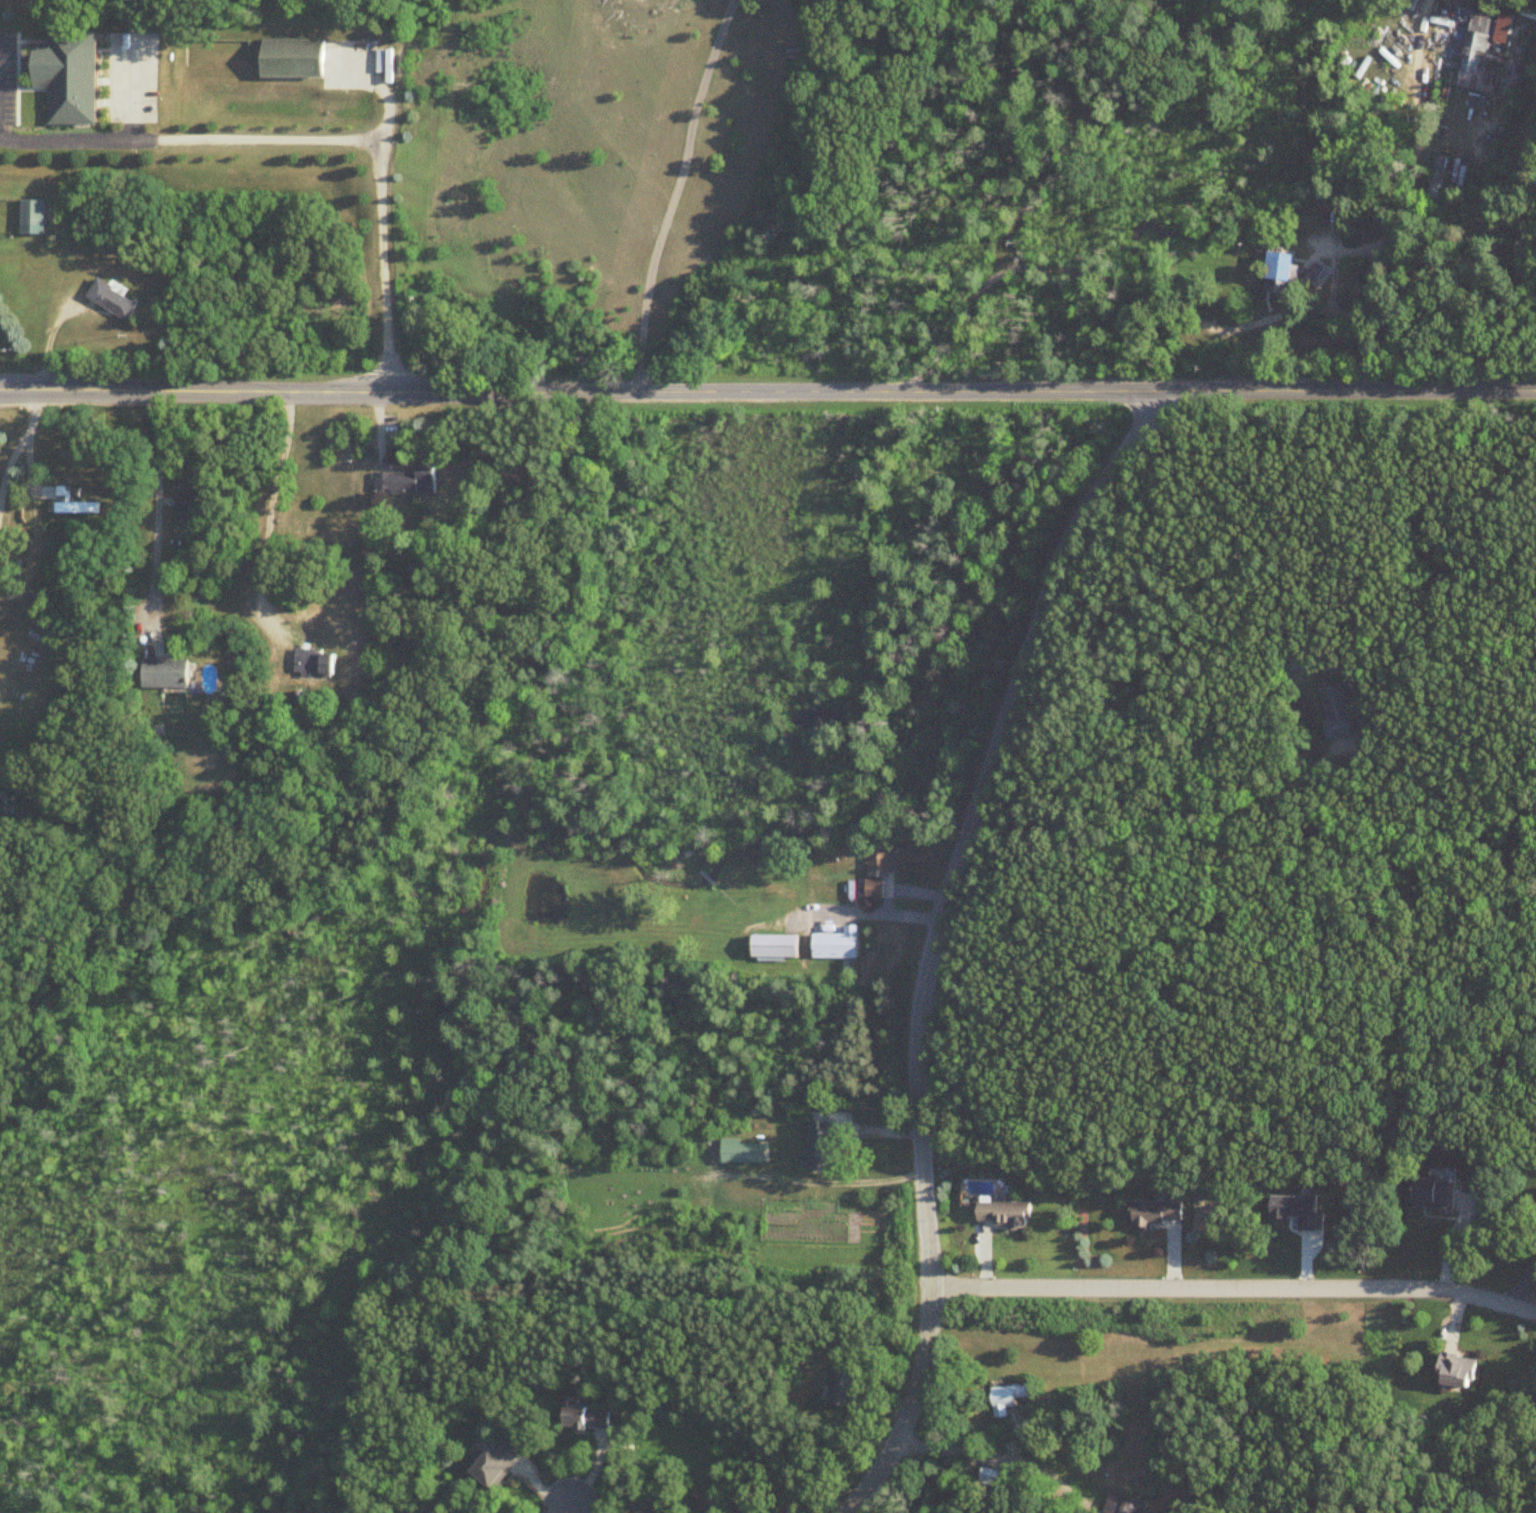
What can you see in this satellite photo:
road: (31, 41)
building: (1486, 50)
building: (293, 58)
building: (73, 73)
road: (14, 79)
road: (127, 82)
road: (32, 89)
road: (317, 133)
building: (1437, 177)
road: (668, 192)
building: (33, 218)
building: (1281, 273)
road: (1146, 298)
building: (114, 301)
road: (768, 392)
building: (408, 482)
building: (190, 502)
building: (76, 508)
road: (268, 512)
road: (151, 516)
building: (1299, 661)
building: (316, 663)
building: (167, 675)
building: (1337, 712)
road: (1151, 814)
building: (883, 861)
building: (874, 890)
road: (905, 891)
road: (878, 912)
road: (934, 940)
building: (837, 945)
building: (778, 947)
building: (825, 1146)
building: (744, 1153)
road: (827, 1183)
building: (1436, 1196)
building: (1158, 1214)
building: (1004, 1216)
road: (1234, 1290)
building: (1458, 1370)
building: (848, 1386)
building: (1011, 1397)
building: (588, 1418)
road: (977, 1453)
building: (498, 1463)
building: (1124, 1504)
road: (566, 1510)

